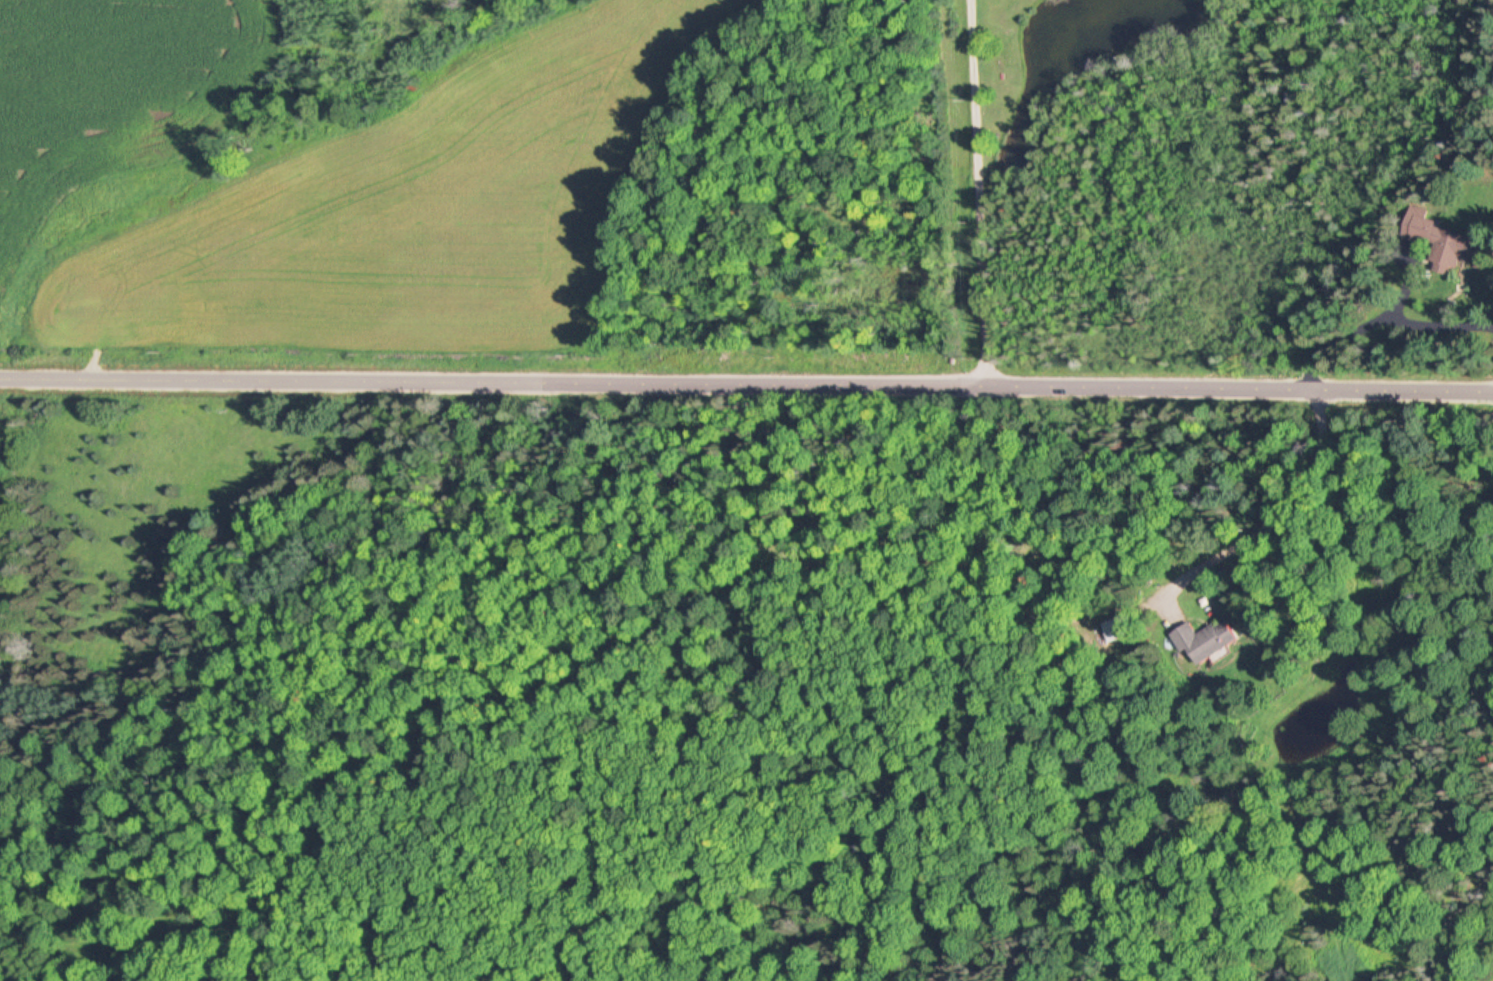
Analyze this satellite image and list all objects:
building: (1448, 243)
road: (746, 382)
building: (1210, 639)

